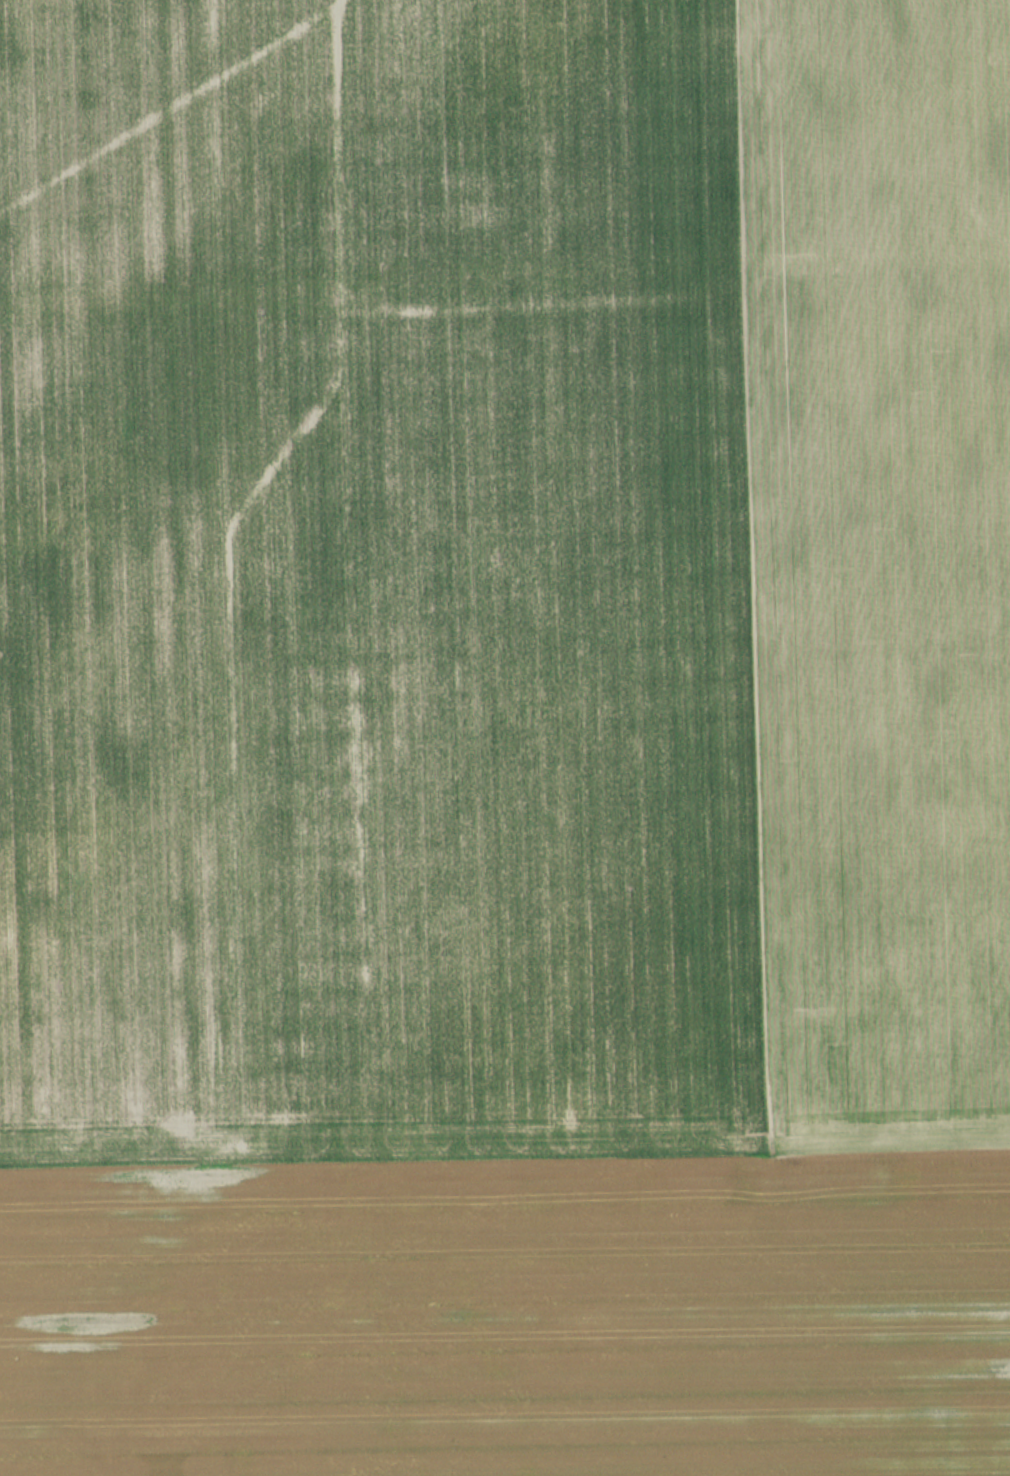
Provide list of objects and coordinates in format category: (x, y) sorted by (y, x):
crop: (890, 565)
crop: (384, 580)
crop: (510, 1315)

